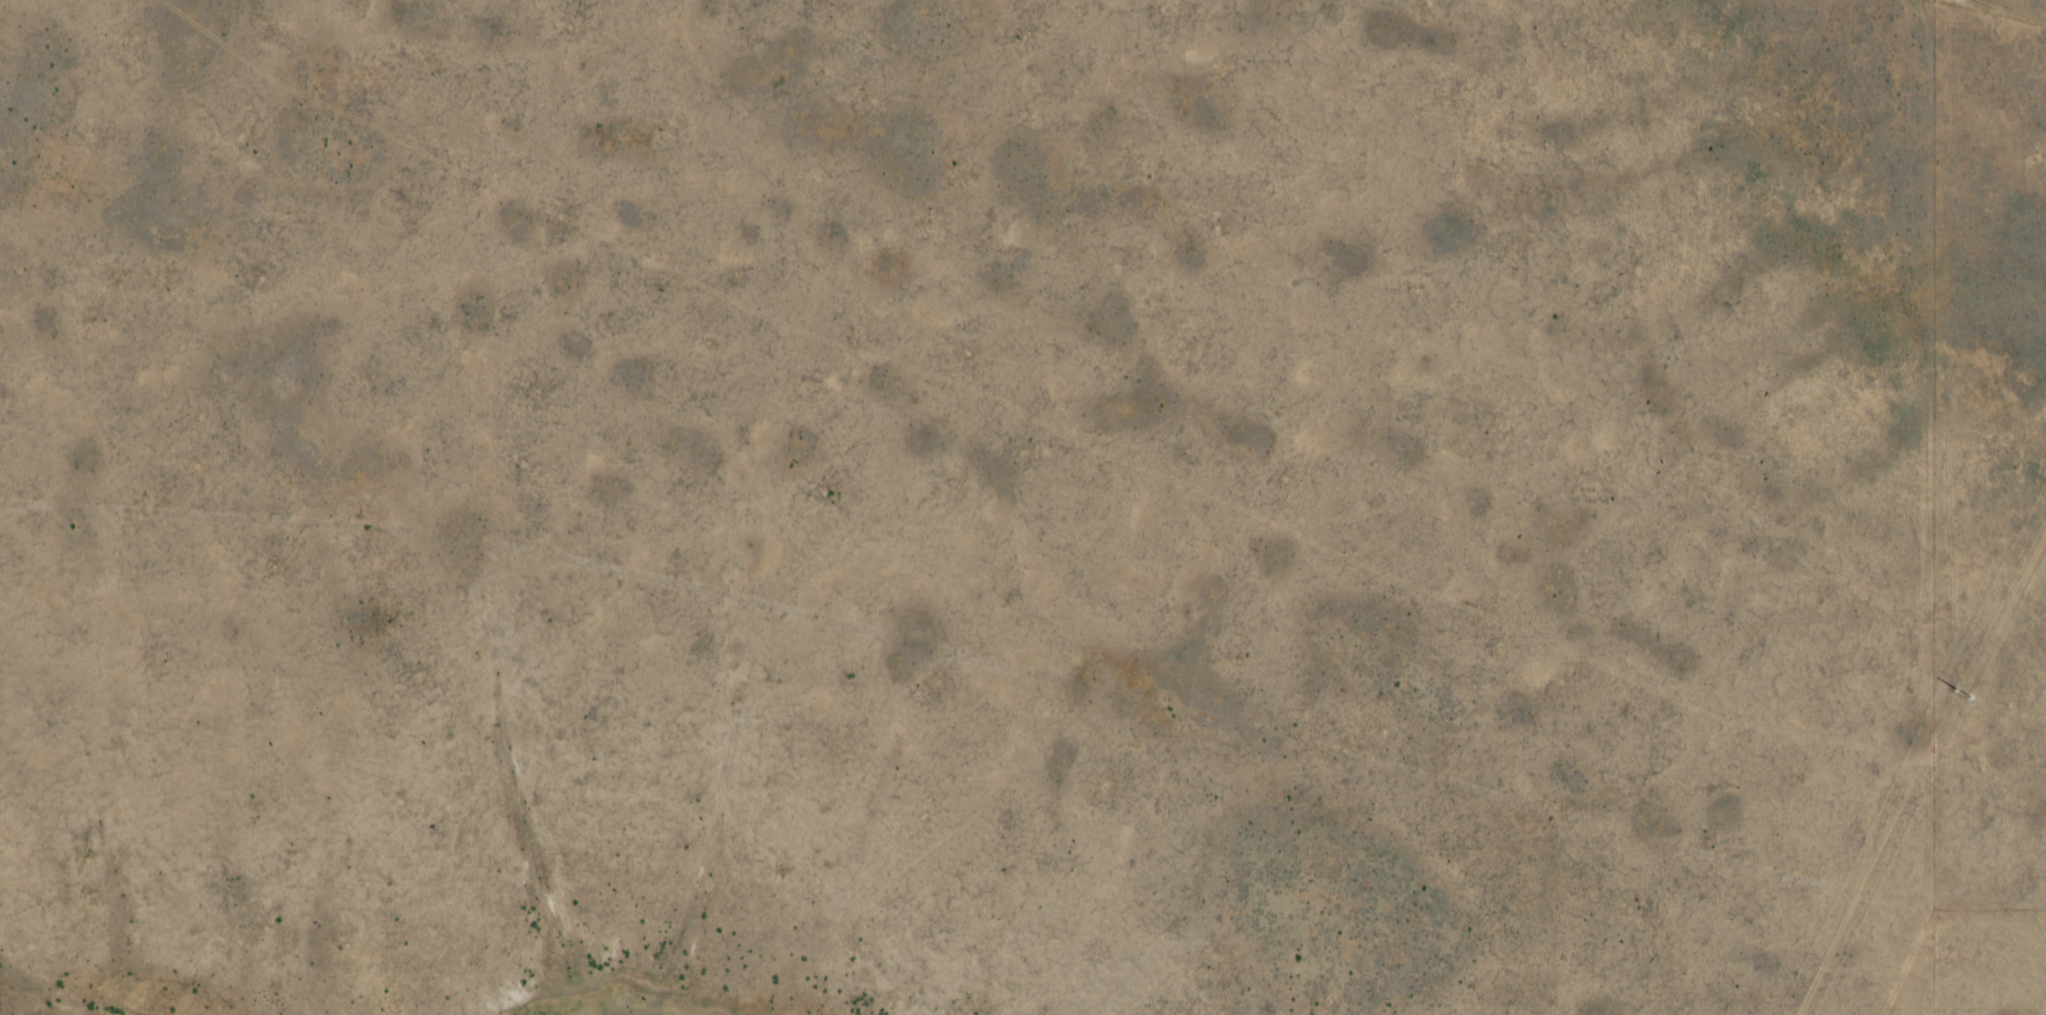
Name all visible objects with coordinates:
power tower: (1964, 690)

